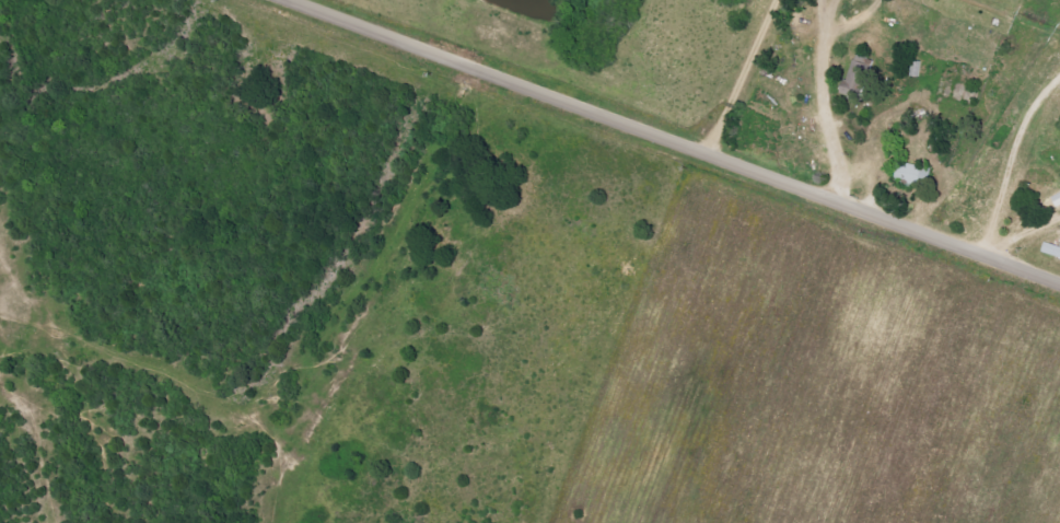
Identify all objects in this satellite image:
building: (855, 74)
road: (824, 106)
road: (682, 142)
building: (911, 175)
building: (1056, 201)
building: (1051, 251)

